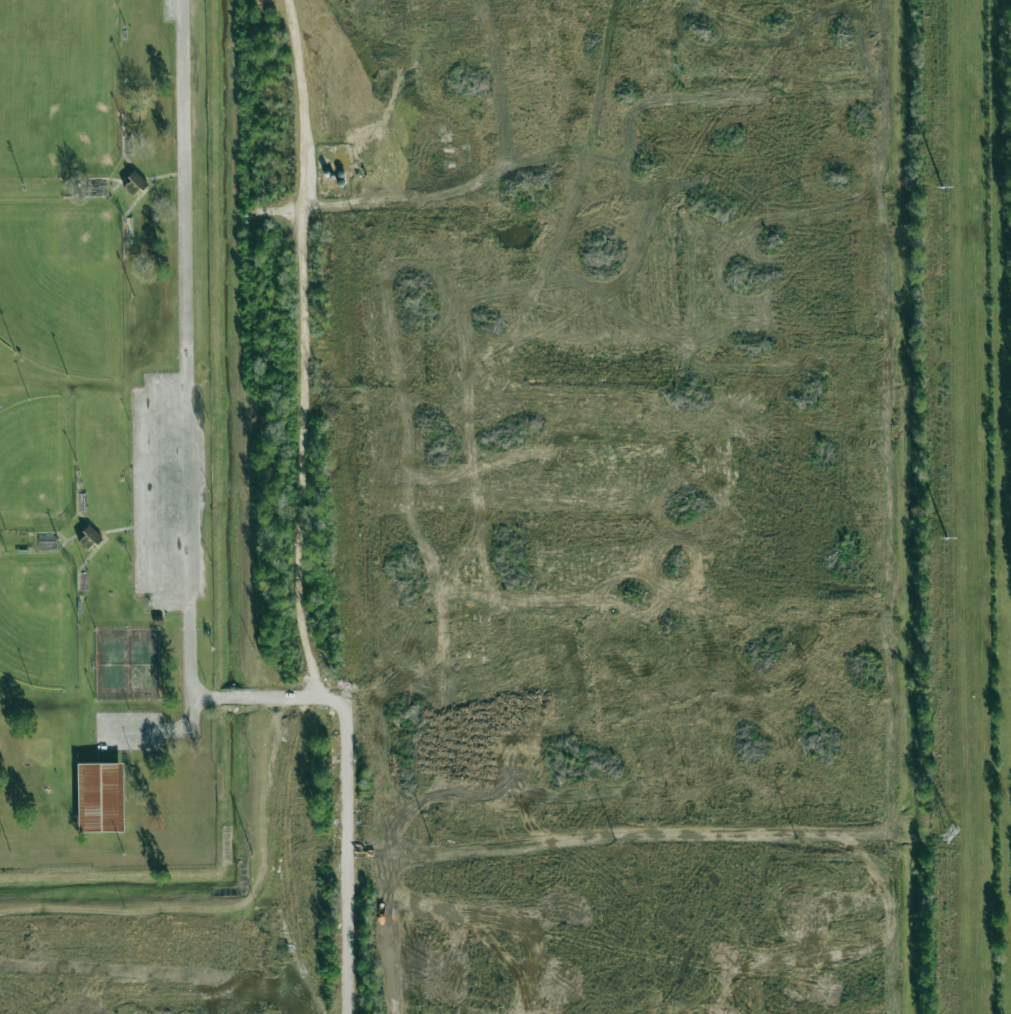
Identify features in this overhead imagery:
park: (58, 86)
road: (308, 103)
building: (134, 184)
power tower: (942, 188)
road: (431, 207)
park: (59, 281)
road: (186, 409)
park: (104, 438)
park: (31, 462)
road: (150, 488)
power tower: (946, 537)
building: (89, 538)
park: (36, 617)
road: (307, 618)
park: (112, 664)
park: (140, 664)
road: (259, 697)
building: (100, 797)
power tower: (952, 834)

